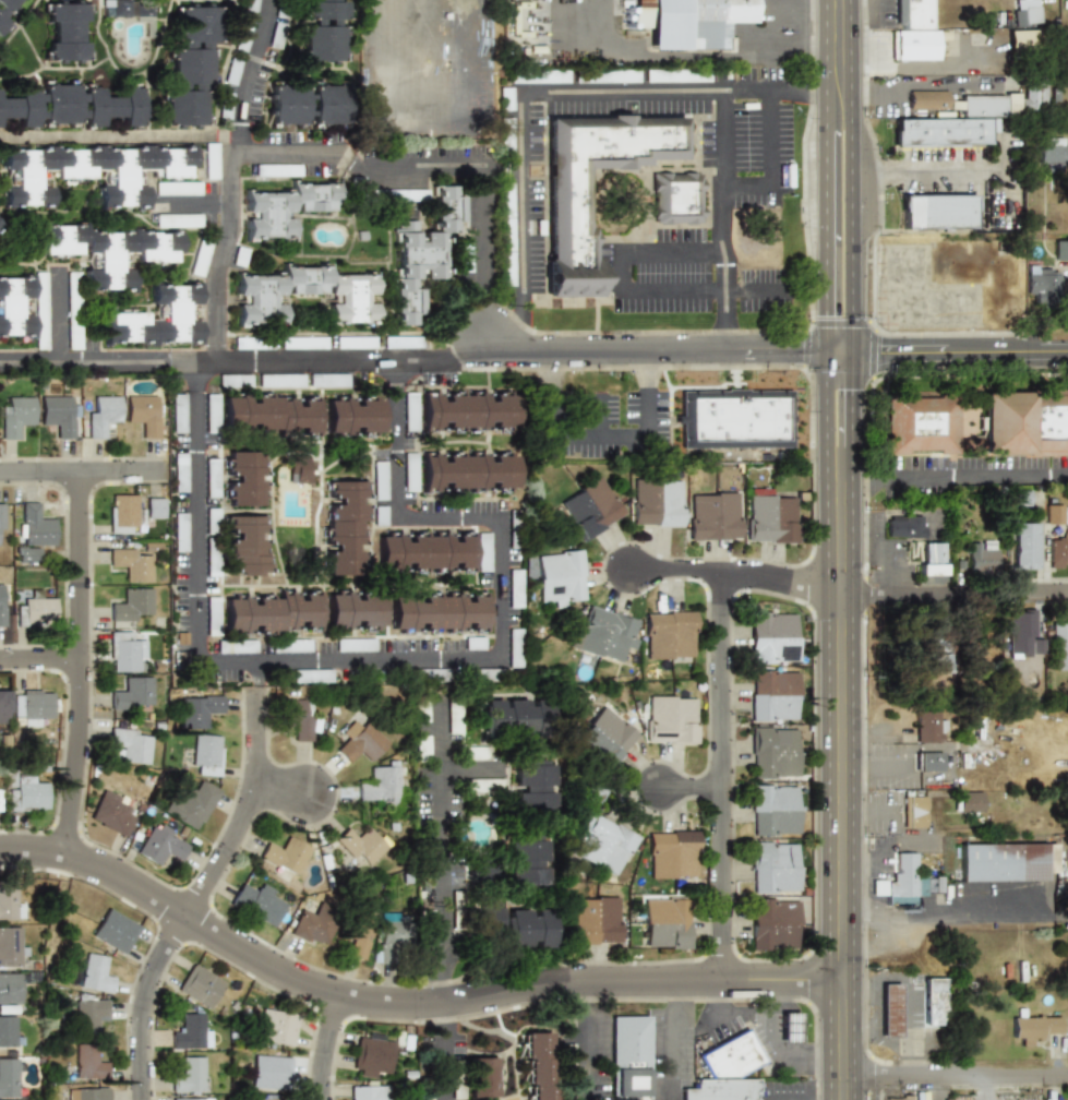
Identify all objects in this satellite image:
building: (250, 7)
building: (129, 8)
building: (7, 9)
building: (1024, 12)
building: (691, 22)
building: (323, 31)
building: (65, 32)
building: (914, 32)
building: (241, 39)
road: (698, 56)
building: (190, 70)
building: (231, 72)
road: (247, 76)
building: (539, 76)
building: (607, 76)
building: (676, 76)
road: (928, 86)
road: (775, 88)
road: (623, 91)
building: (1034, 93)
building: (505, 98)
building: (950, 103)
building: (287, 104)
building: (328, 104)
building: (73, 105)
building: (939, 132)
road: (119, 133)
road: (770, 136)
building: (1052, 151)
building: (211, 160)
road: (723, 168)
building: (277, 169)
building: (87, 170)
road: (951, 171)
road: (362, 175)
road: (826, 176)
road: (851, 176)
road: (747, 184)
building: (177, 189)
road: (521, 192)
building: (398, 194)
building: (676, 198)
road: (1005, 202)
building: (285, 208)
building: (937, 212)
building: (177, 220)
building: (0, 223)
building: (568, 229)
road: (672, 248)
building: (106, 250)
building: (1060, 250)
building: (422, 252)
road: (219, 254)
road: (485, 254)
building: (465, 255)
building: (199, 259)
road: (622, 268)
building: (1042, 280)
road: (674, 288)
road: (724, 300)
building: (14, 304)
building: (259, 309)
building: (73, 310)
building: (40, 311)
road: (56, 316)
building: (157, 318)
road: (520, 324)
building: (249, 342)
building: (303, 342)
building: (355, 342)
building: (400, 342)
road: (960, 350)
road: (839, 351)
road: (503, 352)
road: (82, 362)
road: (179, 362)
building: (284, 380)
building: (467, 410)
building: (177, 412)
building: (268, 412)
building: (58, 415)
building: (145, 415)
building: (352, 415)
building: (103, 416)
building: (16, 417)
road: (825, 417)
road: (851, 417)
building: (734, 418)
building: (1024, 422)
building: (923, 423)
building: (211, 427)
road: (601, 432)
building: (298, 467)
road: (79, 470)
building: (468, 470)
building: (179, 471)
road: (952, 477)
building: (211, 478)
building: (242, 478)
building: (379, 480)
building: (408, 483)
building: (1018, 498)
building: (657, 502)
building: (155, 507)
building: (590, 509)
building: (122, 514)
building: (1051, 514)
building: (379, 515)
building: (713, 516)
building: (1, 518)
building: (771, 518)
building: (904, 526)
building: (344, 527)
building: (33, 530)
building: (179, 531)
road: (196, 538)
building: (245, 546)
building: (1023, 546)
building: (424, 551)
building: (483, 552)
building: (1056, 553)
building: (981, 555)
building: (929, 559)
building: (130, 564)
road: (888, 567)
road: (737, 571)
road: (503, 576)
building: (561, 577)
building: (515, 587)
road: (889, 594)
road: (952, 599)
building: (4, 603)
building: (130, 605)
building: (36, 609)
building: (353, 610)
building: (271, 611)
building: (439, 611)
building: (1018, 632)
building: (604, 634)
building: (670, 635)
building: (772, 637)
building: (475, 643)
building: (355, 644)
building: (235, 645)
building: (289, 645)
building: (1059, 645)
building: (1035, 646)
building: (124, 650)
road: (38, 657)
road: (77, 662)
building: (935, 668)
road: (257, 673)
building: (310, 675)
building: (132, 693)
building: (773, 695)
building: (33, 704)
building: (200, 710)
building: (420, 712)
building: (3, 713)
building: (454, 717)
building: (515, 717)
building: (672, 718)
building: (298, 719)
building: (928, 727)
building: (607, 736)
building: (360, 742)
building: (130, 744)
building: (421, 745)
building: (775, 752)
building: (205, 754)
building: (477, 754)
building: (928, 762)
road: (469, 772)
road: (853, 772)
road: (909, 773)
road: (717, 774)
building: (382, 784)
building: (482, 785)
building: (532, 785)
road: (837, 790)
building: (27, 793)
road: (278, 794)
road: (686, 794)
building: (969, 801)
building: (191, 805)
road: (243, 808)
building: (773, 809)
building: (915, 811)
building: (111, 812)
road: (851, 815)
road: (883, 815)
road: (904, 842)
building: (163, 844)
building: (360, 844)
building: (601, 845)
road: (440, 848)
building: (672, 853)
building: (284, 854)
road: (877, 860)
building: (1005, 861)
building: (525, 862)
building: (775, 866)
road: (853, 868)
road: (873, 868)
building: (904, 881)
building: (256, 900)
building: (9, 901)
building: (455, 910)
road: (952, 916)
building: (595, 920)
building: (665, 923)
building: (773, 923)
building: (312, 925)
building: (512, 926)
building: (115, 931)
building: (357, 936)
building: (395, 937)
building: (11, 946)
building: (94, 973)
building: (200, 985)
road: (577, 989)
building: (10, 990)
building: (933, 1001)
road: (401, 1002)
road: (143, 1003)
building: (889, 1009)
building: (89, 1012)
road: (729, 1012)
building: (276, 1026)
building: (789, 1027)
building: (1034, 1028)
building: (9, 1031)
building: (188, 1031)
road: (778, 1045)
road: (322, 1047)
road: (440, 1050)
road: (578, 1053)
building: (371, 1055)
building: (628, 1057)
building: (87, 1061)
building: (540, 1065)
building: (269, 1071)
building: (727, 1071)
road: (952, 1074)
building: (190, 1075)
building: (9, 1077)
building: (481, 1078)
road: (988, 1087)
building: (369, 1092)
building: (87, 1093)
building: (897, 1097)
building: (193, 1098)
building: (267, 1099)
building: (1065, 1099)

